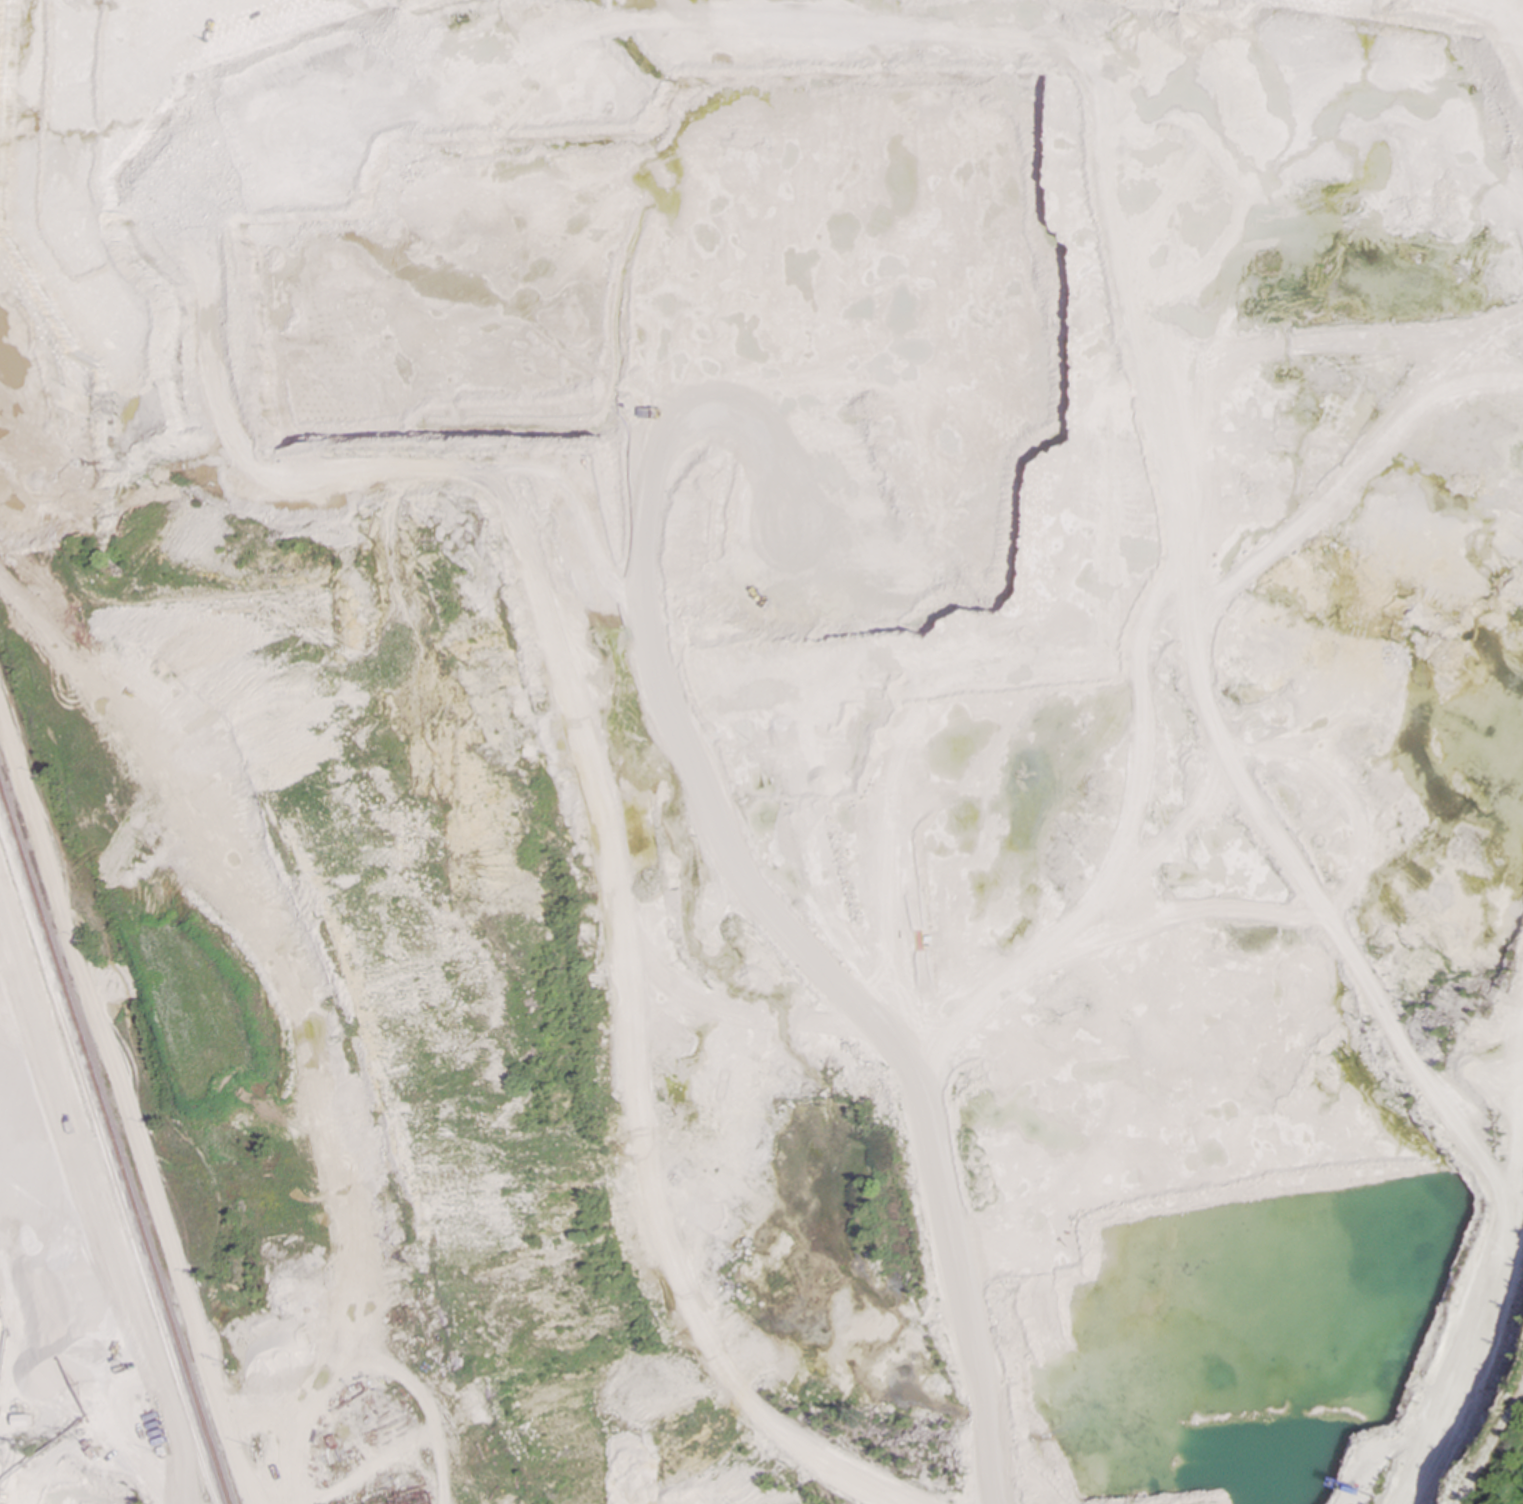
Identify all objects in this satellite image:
quarry: (761, 752)
railway: (114, 1143)
railway: (108, 1168)

